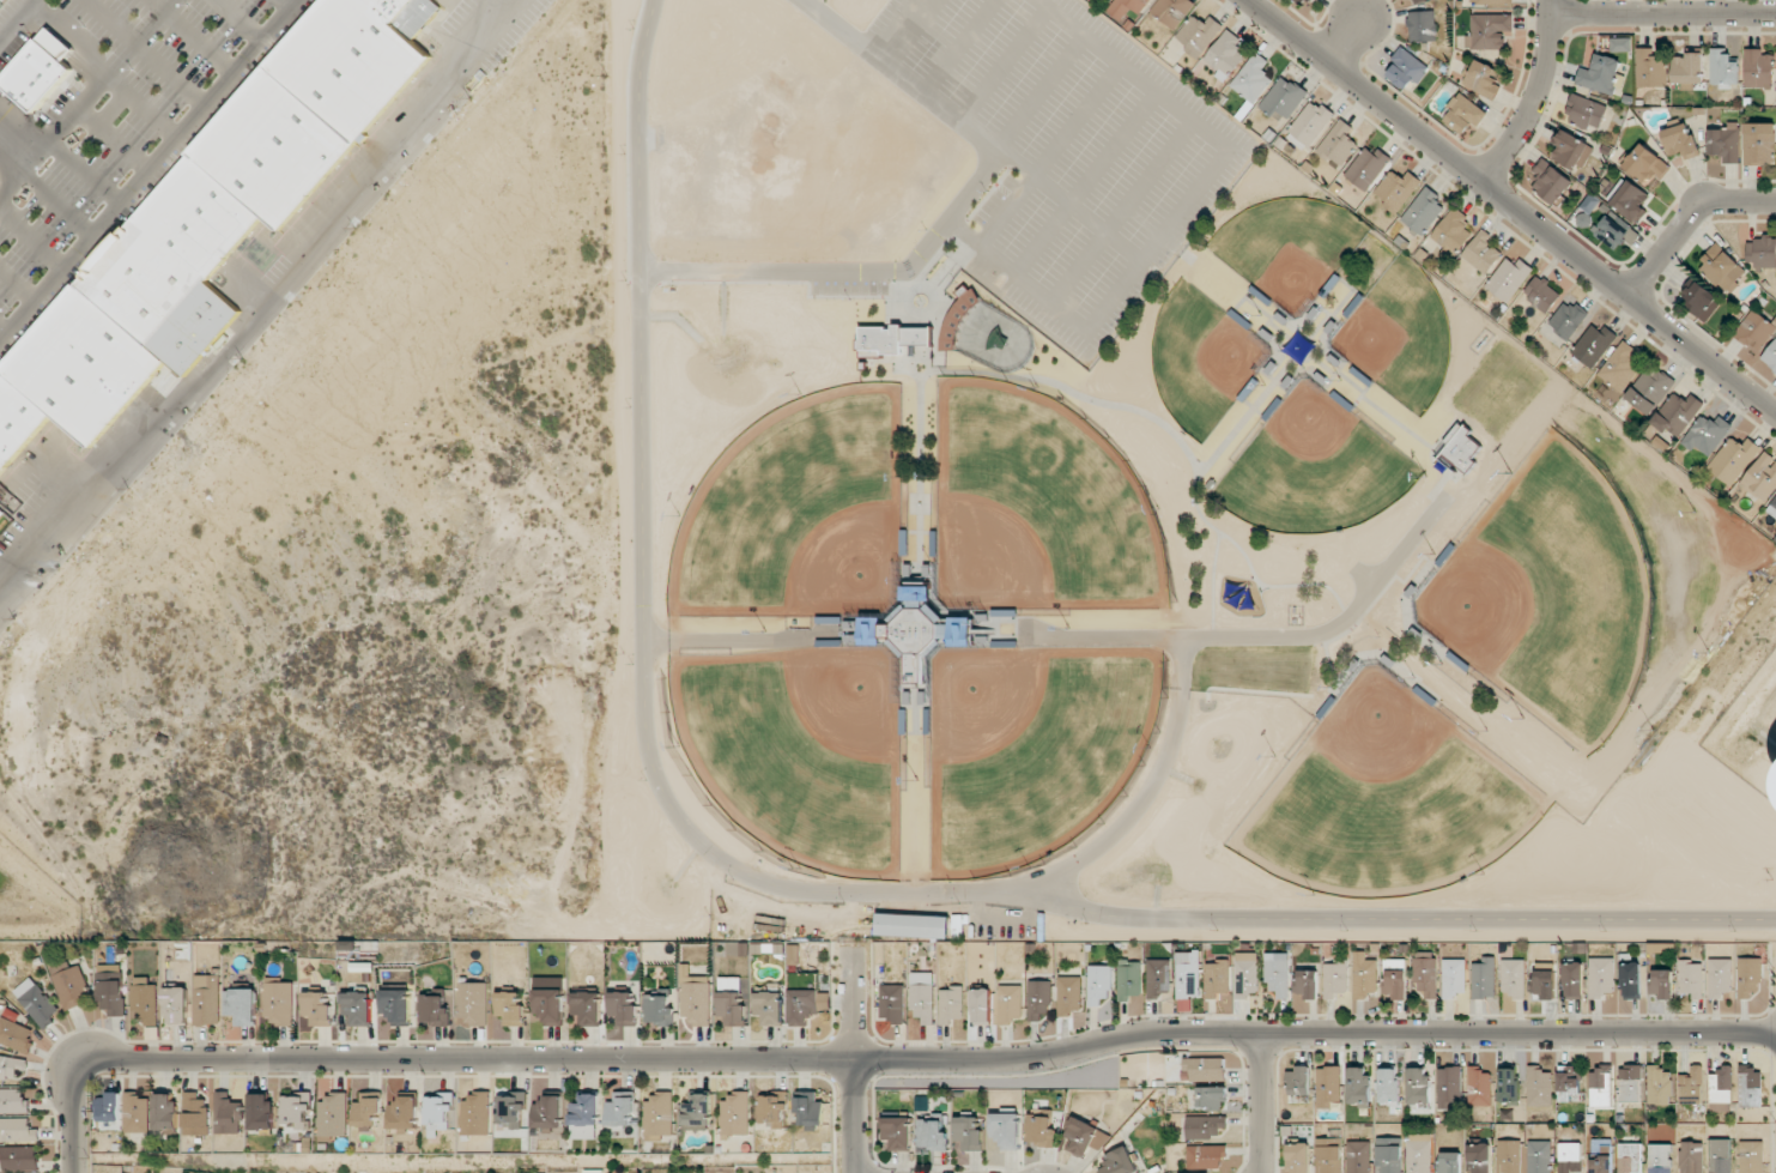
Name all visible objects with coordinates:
building: (1412, 0)
building: (1305, 1)
building: (1491, 1)
building: (1126, 7)
building: (1171, 11)
road: (1663, 13)
road: (14, 17)
building: (1422, 25)
road: (903, 30)
building: (1487, 30)
building: (1198, 34)
road: (1347, 40)
building: (1620, 44)
building: (1224, 54)
building: (1722, 67)
building: (1406, 68)
building: (1649, 68)
building: (1687, 68)
building: (1758, 68)
building: (40, 69)
building: (1600, 74)
building: (1251, 78)
building: (1481, 79)
road: (1535, 97)
building: (1283, 98)
building: (1465, 111)
building: (1584, 111)
building: (1309, 122)
building: (1680, 140)
building: (1725, 140)
building: (1759, 143)
building: (1336, 144)
building: (1570, 150)
building: (1645, 164)
building: (1366, 167)
road: (151, 174)
building: (1551, 181)
building: (1396, 189)
building: (1630, 200)
road: (1514, 205)
building: (217, 208)
building: (1423, 211)
road: (1177, 214)
road: (1686, 219)
road: (944, 225)
building: (1451, 232)
building: (1481, 252)
building: (1760, 252)
building: (1721, 267)
building: (1508, 278)
building: (1541, 294)
building: (1699, 298)
road: (261, 308)
building: (1569, 319)
building: (1754, 331)
building: (891, 339)
building: (1593, 344)
building: (1770, 356)
building: (1619, 367)
building: (1649, 388)
building: (1677, 413)
building: (1707, 434)
building: (1460, 449)
building: (1733, 459)
building: (1762, 477)
building: (1772, 508)
park: (1116, 528)
building: (920, 630)
road: (801, 890)
building: (913, 925)
building: (793, 954)
building: (1425, 973)
building: (1188, 974)
building: (1245, 974)
building: (1277, 974)
building: (1364, 975)
building: (1601, 977)
building: (1691, 977)
building: (1748, 977)
building: (1158, 978)
building: (1335, 978)
building: (1454, 978)
building: (1483, 978)
building: (1514, 978)
building: (1720, 978)
building: (1129, 979)
building: (1218, 979)
building: (1394, 979)
building: (1574, 979)
building: (1631, 979)
building: (1307, 982)
building: (1662, 982)
building: (71, 984)
building: (1099, 984)
building: (1544, 984)
building: (111, 993)
building: (1068, 994)
building: (923, 997)
building: (695, 998)
building: (1038, 998)
building: (145, 999)
building: (207, 999)
building: (37, 1002)
building: (279, 1002)
building: (473, 1002)
building: (892, 1003)
building: (1011, 1003)
building: (951, 1004)
building: (177, 1005)
building: (241, 1005)
building: (396, 1005)
building: (548, 1005)
building: (806, 1005)
building: (981, 1005)
building: (769, 1006)
building: (317, 1008)
building: (357, 1008)
building: (510, 1008)
building: (587, 1008)
building: (623, 1008)
building: (434, 1009)
building: (659, 1009)
building: (16, 1034)
road: (856, 1056)
building: (11, 1066)
road: (927, 1066)
building: (1204, 1069)
building: (1298, 1081)
building: (1568, 1081)
building: (1630, 1083)
building: (1328, 1086)
building: (1388, 1086)
building: (1418, 1086)
building: (1508, 1086)
building: (1539, 1086)
building: (1660, 1086)
building: (1691, 1086)
building: (1750, 1086)
building: (1358, 1087)
building: (1448, 1087)
building: (1479, 1087)
building: (1600, 1087)
building: (1721, 1089)
building: (1211, 1098)
building: (13, 1101)
road: (1256, 1104)
building: (110, 1107)
building: (295, 1107)
building: (620, 1108)
building: (368, 1109)
building: (513, 1109)
building: (772, 1109)
building: (810, 1109)
building: (165, 1111)
building: (261, 1111)
building: (697, 1111)
building: (137, 1112)
building: (405, 1112)
building: (548, 1112)
building: (440, 1113)
building: (737, 1113)
building: (196, 1114)
building: (228, 1114)
building: (333, 1114)
building: (477, 1114)
road: (73, 1115)
building: (659, 1115)
building: (586, 1117)
building: (1205, 1126)
building: (1005, 1129)
building: (1041, 1129)
building: (17, 1130)
building: (932, 1131)
building: (897, 1132)
building: (969, 1132)
building: (1085, 1137)
building: (1329, 1153)
building: (1418, 1153)
building: (1388, 1155)
building: (1206, 1156)
building: (1358, 1156)
building: (1510, 1156)
building: (1539, 1156)
building: (1720, 1156)
building: (1751, 1156)
building: (18, 1157)
building: (1298, 1157)
building: (1479, 1157)
building: (1569, 1157)
building: (1629, 1157)
building: (1691, 1157)
building: (1660, 1159)
building: (1119, 1161)
building: (1602, 1161)
building: (1449, 1162)

